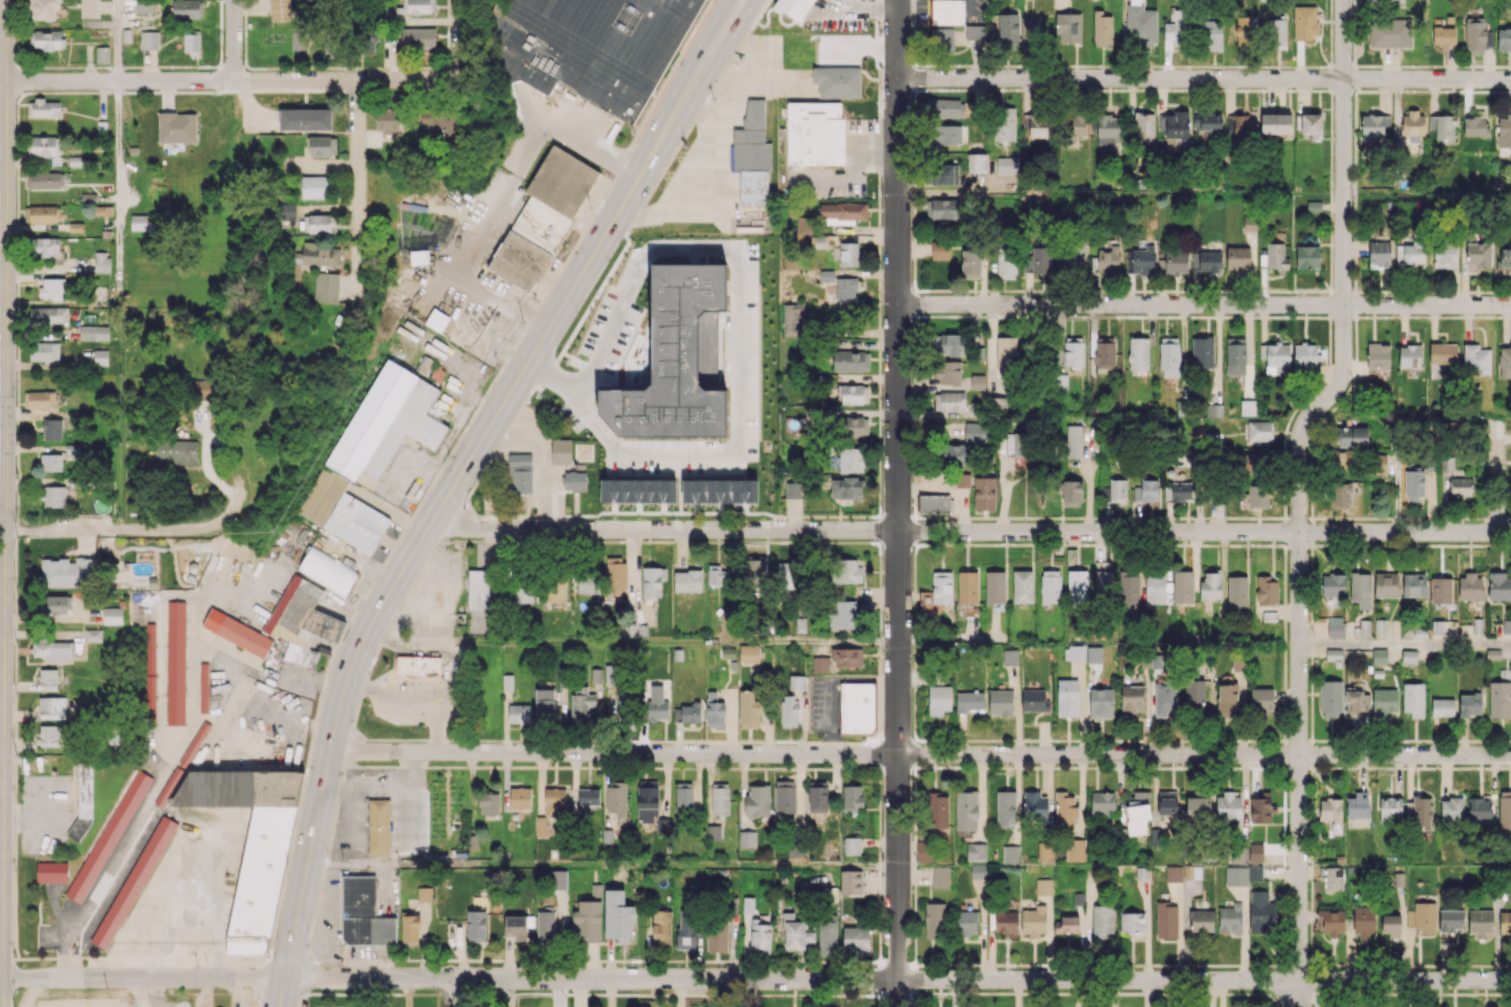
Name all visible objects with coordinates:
building: (1382, 2)
building: (144, 6)
building: (417, 6)
building: (794, 7)
building: (187, 8)
building: (42, 10)
building: (89, 10)
building: (279, 10)
building: (947, 11)
building: (1305, 22)
building: (1140, 24)
building: (1008, 26)
building: (1068, 27)
building: (1176, 27)
building: (1102, 29)
building: (1031, 30)
building: (974, 31)
building: (1245, 32)
road: (719, 33)
building: (1277, 33)
building: (1389, 33)
road: (459, 35)
building: (1211, 35)
building: (1443, 36)
building: (1476, 36)
building: (418, 37)
building: (946, 38)
building: (1504, 38)
road: (117, 40)
building: (149, 40)
road: (233, 40)
building: (297, 40)
building: (365, 40)
building: (45, 41)
building: (191, 43)
building: (588, 47)
building: (101, 56)
road: (1203, 78)
road: (231, 80)
building: (837, 81)
building: (44, 107)
building: (945, 107)
building: (304, 119)
building: (387, 121)
building: (1207, 121)
building: (438, 122)
building: (1004, 123)
building: (1275, 123)
building: (1412, 123)
building: (1039, 125)
building: (1074, 125)
building: (1176, 125)
building: (1244, 125)
building: (1310, 125)
building: (1373, 126)
building: (1442, 126)
building: (1476, 126)
building: (177, 127)
building: (1107, 128)
building: (1143, 128)
building: (814, 133)
building: (951, 134)
building: (1504, 135)
building: (751, 139)
building: (322, 145)
building: (47, 149)
building: (976, 164)
building: (1007, 165)
road: (119, 174)
building: (943, 174)
road: (357, 175)
building: (46, 180)
building: (314, 186)
building: (753, 187)
building: (88, 197)
road: (499, 199)
building: (940, 209)
building: (103, 210)
building: (842, 210)
building: (286, 211)
building: (41, 213)
building: (542, 218)
building: (836, 221)
building: (140, 222)
building: (318, 223)
building: (1249, 223)
building: (818, 242)
building: (44, 246)
building: (940, 250)
building: (1410, 252)
building: (846, 253)
building: (1379, 253)
building: (320, 254)
building: (1445, 254)
building: (1478, 254)
building: (1074, 255)
building: (1276, 256)
building: (1307, 256)
building: (1505, 256)
building: (418, 257)
building: (1237, 257)
building: (1039, 259)
building: (1106, 260)
building: (1139, 260)
building: (1206, 261)
building: (101, 262)
building: (1175, 262)
building: (970, 263)
building: (1006, 263)
road: (735, 265)
building: (826, 275)
building: (326, 286)
building: (52, 288)
building: (846, 288)
road: (1204, 304)
building: (48, 315)
building: (436, 320)
building: (94, 332)
building: (952, 344)
building: (44, 351)
building: (1202, 352)
building: (1006, 353)
building: (1104, 353)
building: (1138, 353)
building: (1442, 353)
building: (1305, 354)
building: (1274, 355)
building: (1409, 355)
building: (1235, 356)
building: (1378, 356)
building: (100, 357)
building: (1070, 357)
building: (1169, 357)
building: (1476, 358)
building: (850, 360)
building: (1505, 361)
building: (947, 372)
building: (977, 381)
building: (1061, 381)
building: (853, 394)
building: (39, 399)
building: (949, 401)
building: (997, 404)
building: (1247, 407)
building: (1214, 411)
road: (238, 415)
building: (387, 422)
building: (852, 426)
building: (52, 429)
building: (1260, 430)
building: (975, 431)
building: (1351, 436)
building: (1073, 441)
building: (1015, 444)
building: (176, 451)
building: (560, 451)
building: (954, 454)
building: (852, 459)
building: (519, 461)
building: (1255, 461)
building: (51, 462)
building: (1379, 464)
road: (1496, 477)
building: (574, 480)
building: (962, 480)
building: (521, 481)
road: (1299, 483)
building: (1414, 484)
building: (1461, 487)
road: (5, 488)
building: (846, 488)
building: (792, 489)
building: (1117, 489)
building: (1146, 491)
building: (1177, 491)
building: (984, 493)
building: (1072, 493)
building: (1341, 494)
building: (53, 496)
building: (1258, 496)
road: (443, 503)
road: (897, 503)
building: (933, 503)
building: (341, 511)
road: (116, 529)
road: (970, 532)
building: (327, 570)
building: (846, 570)
building: (66, 571)
building: (616, 575)
building: (717, 575)
building: (754, 576)
building: (785, 577)
building: (687, 580)
building: (588, 581)
building: (652, 581)
building: (1103, 583)
building: (1333, 584)
building: (1414, 584)
building: (1077, 585)
building: (1210, 585)
building: (1386, 585)
building: (995, 586)
building: (1022, 586)
building: (1050, 586)
building: (1183, 586)
building: (1470, 586)
building: (1499, 586)
building: (967, 587)
building: (556, 588)
building: (1155, 588)
building: (1128, 589)
building: (1360, 589)
building: (1440, 589)
building: (1267, 590)
building: (522, 591)
building: (936, 593)
building: (1237, 594)
building: (477, 602)
building: (58, 604)
building: (112, 615)
building: (842, 615)
building: (302, 620)
building: (1335, 627)
building: (1437, 627)
building: (1364, 628)
building: (237, 632)
building: (93, 635)
road: (1405, 645)
building: (53, 650)
building: (1074, 652)
building: (1093, 652)
building: (728, 653)
building: (1493, 653)
building: (748, 654)
building: (1333, 654)
building: (848, 656)
building: (1379, 656)
building: (1409, 656)
building: (1156, 661)
building: (175, 662)
building: (1237, 663)
building: (820, 664)
building: (417, 666)
building: (150, 672)
building: (595, 675)
building: (612, 675)
building: (562, 677)
building: (48, 679)
building: (507, 682)
building: (796, 682)
building: (203, 687)
building: (1194, 694)
building: (1227, 694)
building: (1164, 697)
building: (1067, 698)
building: (1132, 698)
building: (1330, 698)
building: (939, 699)
building: (1261, 699)
building: (1413, 699)
building: (1499, 699)
building: (1034, 700)
building: (968, 701)
building: (1000, 702)
building: (1384, 702)
building: (656, 703)
building: (1100, 703)
building: (581, 704)
building: (1470, 704)
building: (544, 705)
building: (1356, 705)
building: (52, 707)
building: (625, 707)
building: (856, 707)
building: (1442, 707)
building: (748, 709)
building: (714, 710)
building: (788, 711)
building: (519, 713)
building: (686, 713)
building: (48, 735)
building: (195, 742)
road: (1, 752)
road: (920, 754)
building: (170, 786)
building: (588, 796)
building: (784, 796)
building: (817, 796)
building: (852, 797)
building: (520, 798)
building: (683, 798)
road: (149, 800)
building: (616, 800)
building: (756, 800)
building: (554, 801)
building: (719, 801)
building: (647, 802)
building: (1102, 802)
building: (1167, 802)
building: (488, 804)
building: (1035, 805)
building: (1357, 805)
building: (1228, 806)
building: (1197, 807)
building: (1006, 808)
building: (1260, 808)
building: (1451, 808)
building: (1065, 809)
building: (1389, 809)
building: (1479, 809)
building: (1504, 809)
building: (937, 810)
building: (966, 810)
building: (1330, 810)
building: (1421, 811)
building: (1137, 812)
building: (662, 825)
building: (378, 826)
building: (541, 826)
building: (713, 832)
building: (108, 836)
building: (747, 838)
building: (249, 842)
building: (851, 845)
building: (1075, 849)
building: (795, 851)
building: (924, 851)
building: (976, 851)
building: (1044, 851)
building: (1255, 852)
building: (1011, 854)
building: (1238, 855)
building: (51, 871)
building: (1194, 871)
building: (1255, 872)
building: (1173, 873)
building: (1236, 875)
building: (940, 877)
building: (557, 879)
building: (978, 879)
building: (1332, 879)
building: (133, 881)
building: (850, 882)
building: (1043, 886)
building: (358, 894)
building: (424, 894)
building: (748, 904)
building: (1261, 912)
building: (588, 917)
building: (1229, 917)
building: (1424, 917)
building: (1166, 919)
building: (1450, 919)
building: (934, 920)
building: (1033, 920)
building: (1201, 920)
building: (623, 921)
building: (1006, 921)
building: (1102, 921)
building: (1329, 921)
building: (1363, 921)
building: (965, 922)
building: (1131, 922)
building: (1480, 922)
building: (1505, 922)
building: (545, 924)
building: (1066, 924)
building: (1390, 924)
building: (476, 926)
building: (410, 927)
building: (516, 927)
building: (661, 927)
building: (368, 930)
building: (686, 930)
building: (797, 933)
building: (716, 936)
building: (827, 937)
building: (760, 938)
building: (855, 939)
road: (1, 977)
road: (143, 978)
road: (591, 978)
road: (1097, 980)
road: (1403, 981)
road: (1294, 990)
road: (3, 992)
road: (157, 992)
road: (281, 992)
road: (449, 992)
road: (1290, 1003)
road: (1296, 1003)

